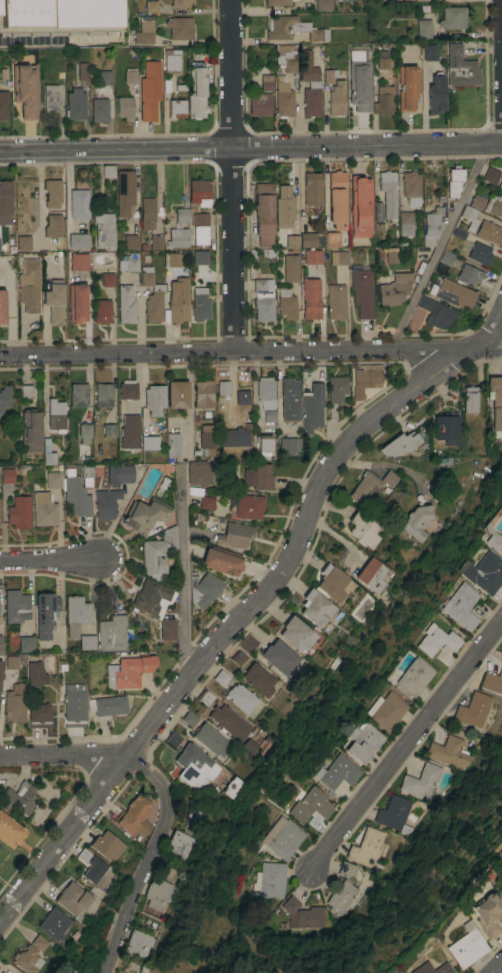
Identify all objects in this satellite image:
building: (407, 0)
building: (277, 2)
building: (179, 3)
building: (322, 4)
building: (150, 6)
building: (58, 13)
building: (452, 17)
building: (179, 27)
building: (292, 28)
building: (423, 28)
building: (143, 33)
building: (429, 52)
building: (287, 56)
building: (359, 56)
building: (382, 59)
building: (171, 60)
building: (460, 67)
building: (82, 70)
road: (501, 71)
building: (129, 75)
building: (328, 75)
building: (103, 77)
building: (266, 81)
building: (310, 84)
building: (358, 86)
building: (407, 87)
building: (26, 89)
building: (149, 90)
building: (196, 90)
building: (435, 94)
building: (50, 98)
building: (336, 98)
building: (283, 99)
building: (383, 100)
building: (74, 103)
building: (259, 103)
building: (3, 105)
building: (124, 107)
building: (176, 108)
building: (99, 109)
road: (251, 148)
building: (107, 171)
road: (230, 175)
building: (490, 175)
building: (454, 180)
building: (500, 183)
building: (312, 188)
building: (410, 188)
building: (52, 192)
building: (124, 192)
building: (198, 192)
building: (387, 192)
road: (40, 199)
building: (336, 200)
building: (477, 201)
building: (5, 202)
building: (78, 203)
building: (494, 204)
building: (284, 206)
building: (359, 206)
building: (377, 211)
building: (147, 212)
building: (263, 213)
building: (181, 214)
building: (469, 216)
building: (199, 222)
building: (432, 222)
building: (405, 223)
building: (53, 226)
building: (103, 230)
building: (489, 231)
building: (457, 234)
building: (177, 237)
building: (331, 238)
building: (76, 240)
building: (301, 240)
building: (130, 241)
building: (23, 242)
building: (156, 242)
road: (440, 244)
building: (479, 252)
building: (391, 255)
building: (199, 257)
building: (312, 257)
building: (445, 257)
building: (341, 258)
building: (170, 260)
building: (77, 262)
building: (128, 263)
building: (290, 268)
building: (468, 275)
building: (106, 280)
building: (29, 285)
building: (361, 289)
building: (392, 289)
building: (451, 292)
building: (151, 296)
building: (177, 296)
building: (262, 298)
building: (310, 298)
building: (54, 301)
building: (335, 301)
building: (76, 303)
building: (286, 303)
building: (125, 304)
building: (199, 304)
building: (2, 305)
building: (101, 310)
building: (435, 312)
road: (251, 351)
building: (365, 379)
building: (223, 388)
building: (127, 389)
building: (26, 391)
building: (265, 392)
building: (335, 392)
building: (203, 393)
building: (78, 394)
building: (102, 394)
building: (176, 394)
building: (4, 397)
building: (289, 398)
building: (154, 399)
building: (470, 399)
building: (495, 403)
building: (312, 407)
building: (55, 415)
building: (269, 416)
building: (446, 428)
building: (30, 430)
building: (108, 430)
building: (129, 431)
building: (84, 432)
building: (206, 439)
building: (149, 442)
building: (399, 444)
building: (172, 445)
building: (289, 445)
building: (263, 447)
building: (230, 451)
building: (47, 452)
road: (383, 463)
building: (86, 471)
building: (119, 474)
building: (198, 474)
building: (6, 475)
building: (258, 476)
building: (389, 477)
building: (53, 479)
building: (364, 488)
building: (75, 494)
building: (201, 497)
building: (105, 502)
building: (247, 506)
building: (44, 509)
building: (18, 511)
building: (145, 515)
building: (416, 521)
building: (363, 529)
building: (234, 535)
building: (170, 537)
building: (491, 538)
building: (152, 557)
road: (50, 560)
building: (219, 561)
building: (483, 572)
road: (181, 575)
building: (371, 575)
building: (332, 582)
building: (204, 590)
building: (151, 598)
road: (257, 605)
building: (16, 606)
building: (459, 606)
building: (316, 607)
building: (45, 613)
building: (76, 614)
building: (435, 623)
building: (167, 629)
building: (113, 633)
building: (297, 634)
building: (434, 640)
building: (86, 642)
building: (0, 643)
building: (25, 643)
building: (278, 656)
building: (238, 657)
building: (10, 661)
building: (128, 671)
building: (35, 674)
building: (410, 675)
building: (222, 677)
building: (258, 678)
building: (492, 681)
building: (205, 697)
building: (240, 697)
building: (13, 703)
building: (73, 705)
building: (107, 706)
building: (473, 709)
building: (383, 711)
building: (38, 715)
building: (190, 718)
building: (229, 721)
building: (174, 738)
building: (211, 739)
building: (360, 742)
building: (249, 745)
road: (403, 750)
building: (449, 752)
road: (64, 755)
building: (195, 766)
building: (334, 772)
building: (421, 780)
building: (231, 786)
building: (19, 797)
building: (307, 805)
building: (394, 814)
building: (134, 816)
building: (9, 831)
building: (280, 837)
building: (180, 843)
building: (106, 845)
building: (366, 847)
road: (148, 859)
building: (91, 865)
building: (500, 875)
building: (267, 880)
building: (343, 888)
building: (159, 894)
building: (73, 898)
building: (488, 912)
building: (303, 914)
building: (54, 923)
building: (139, 943)
building: (466, 945)
building: (30, 955)
road: (488, 958)
building: (430, 968)
building: (1, 972)
building: (69, 972)
building: (123, 972)

